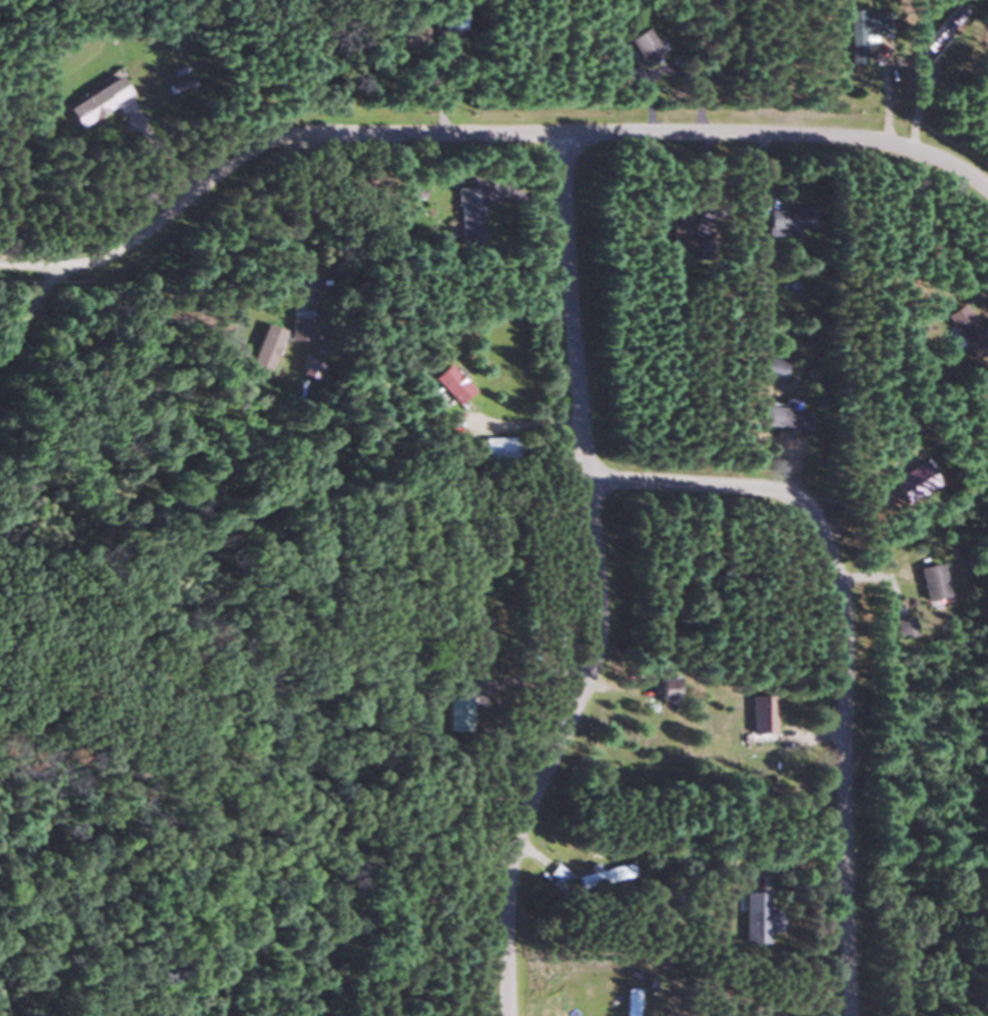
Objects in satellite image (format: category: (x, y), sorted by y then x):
building: (452, 18)
building: (864, 23)
building: (937, 30)
building: (405, 36)
building: (638, 45)
building: (99, 100)
road: (482, 136)
building: (466, 214)
building: (786, 218)
building: (677, 232)
building: (701, 249)
road: (31, 308)
building: (963, 331)
building: (264, 346)
building: (768, 367)
building: (450, 384)
building: (781, 417)
road: (518, 421)
building: (497, 447)
road: (587, 580)
building: (929, 581)
building: (901, 627)
road: (839, 639)
building: (664, 688)
road: (481, 701)
building: (456, 712)
building: (760, 714)
building: (602, 875)
building: (756, 914)
building: (628, 1002)

